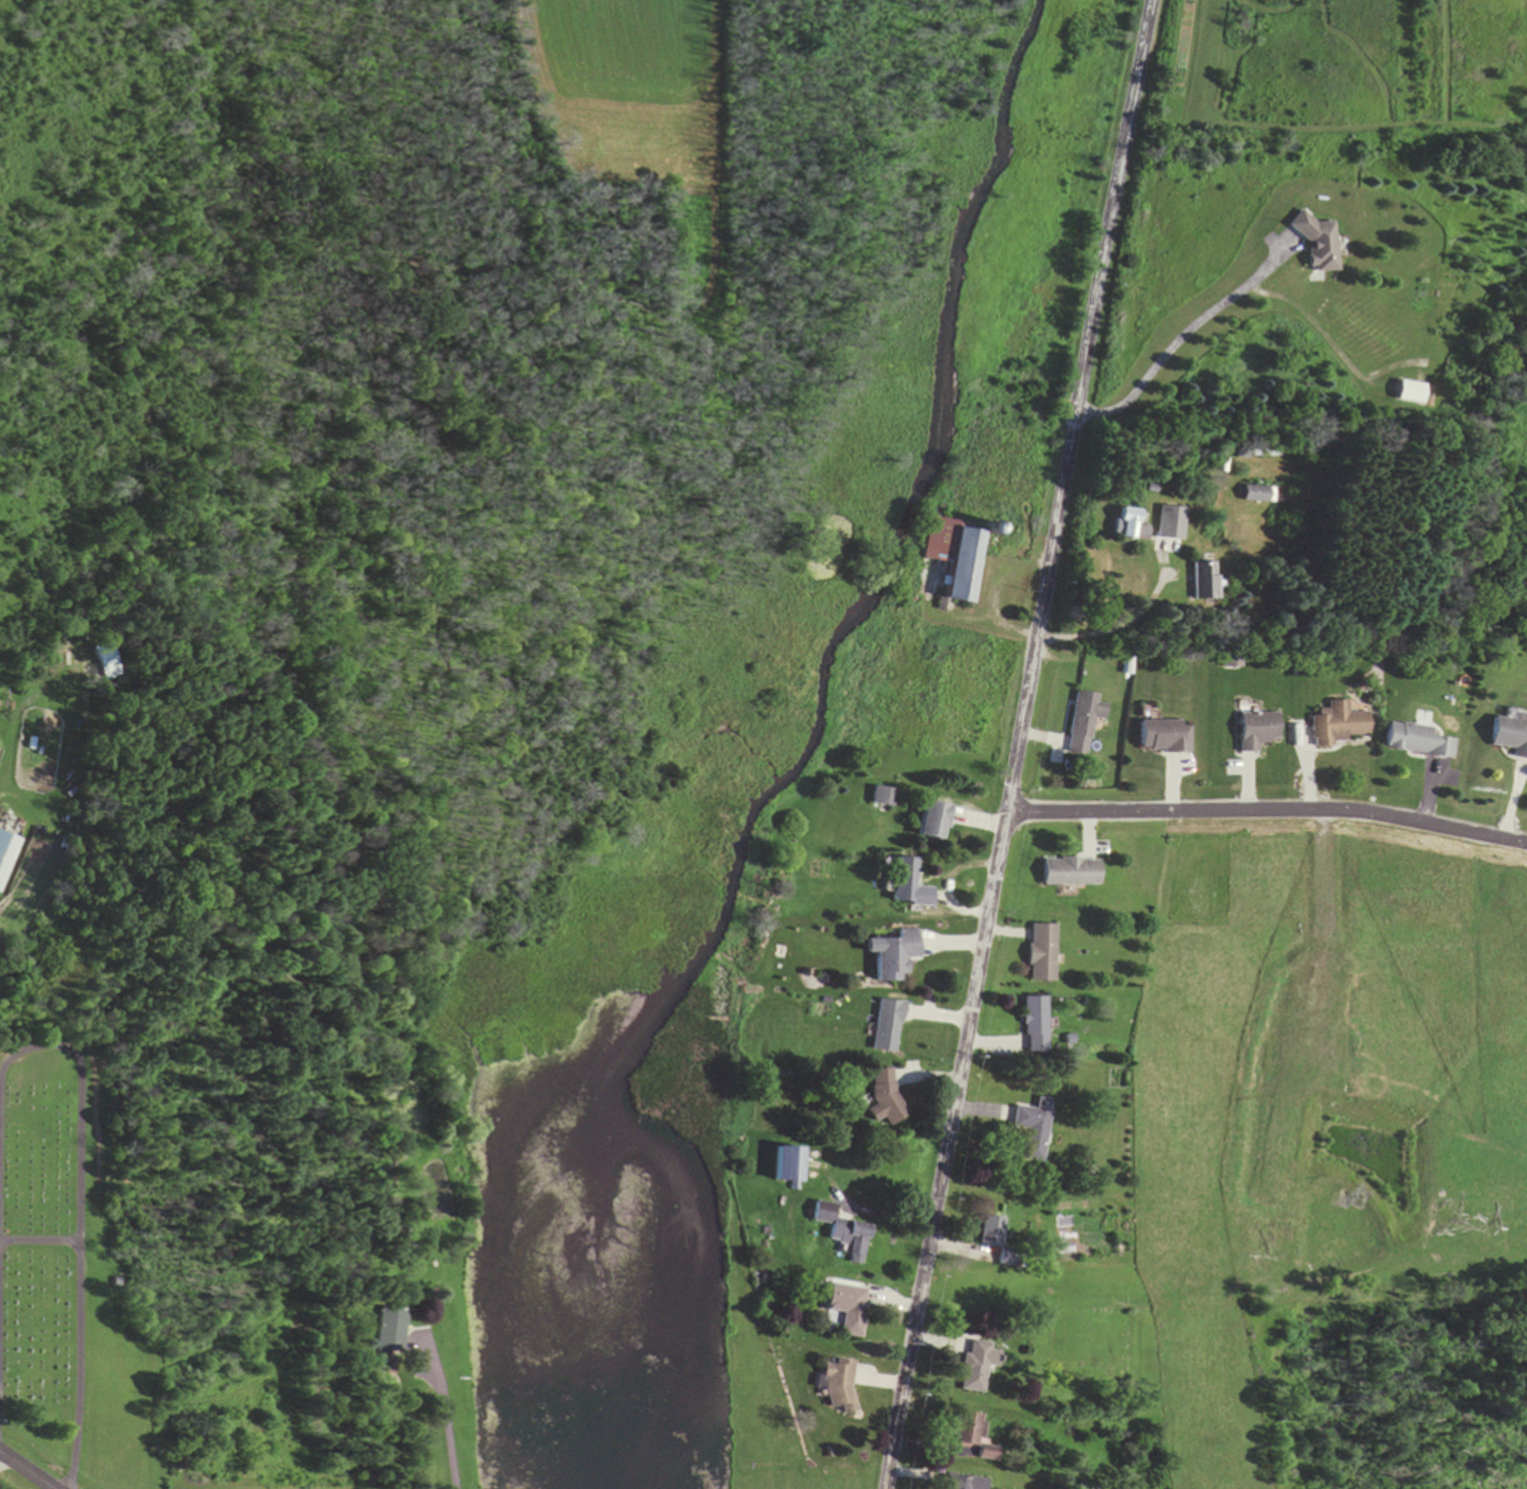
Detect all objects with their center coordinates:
building: (1316, 242)
road: (1093, 309)
building: (1409, 392)
building: (1264, 495)
building: (1171, 524)
building: (1129, 526)
building: (954, 556)
building: (1203, 581)
building: (1084, 722)
building: (1337, 725)
building: (1257, 730)
building: (1164, 736)
building: (1509, 736)
building: (1417, 741)
road: (1268, 811)
building: (934, 822)
building: (1071, 872)
building: (909, 885)
building: (1042, 954)
building: (895, 956)
building: (1034, 1026)
building: (886, 1027)
road: (963, 1053)
building: (883, 1096)
building: (1033, 1129)
building: (788, 1165)
building: (842, 1231)
building: (992, 1231)
road: (411, 1247)
building: (848, 1308)
building: (391, 1333)
building: (976, 1366)
building: (839, 1384)
building: (972, 1433)
road: (28, 1469)
building: (966, 1482)
park: (799, 1484)

